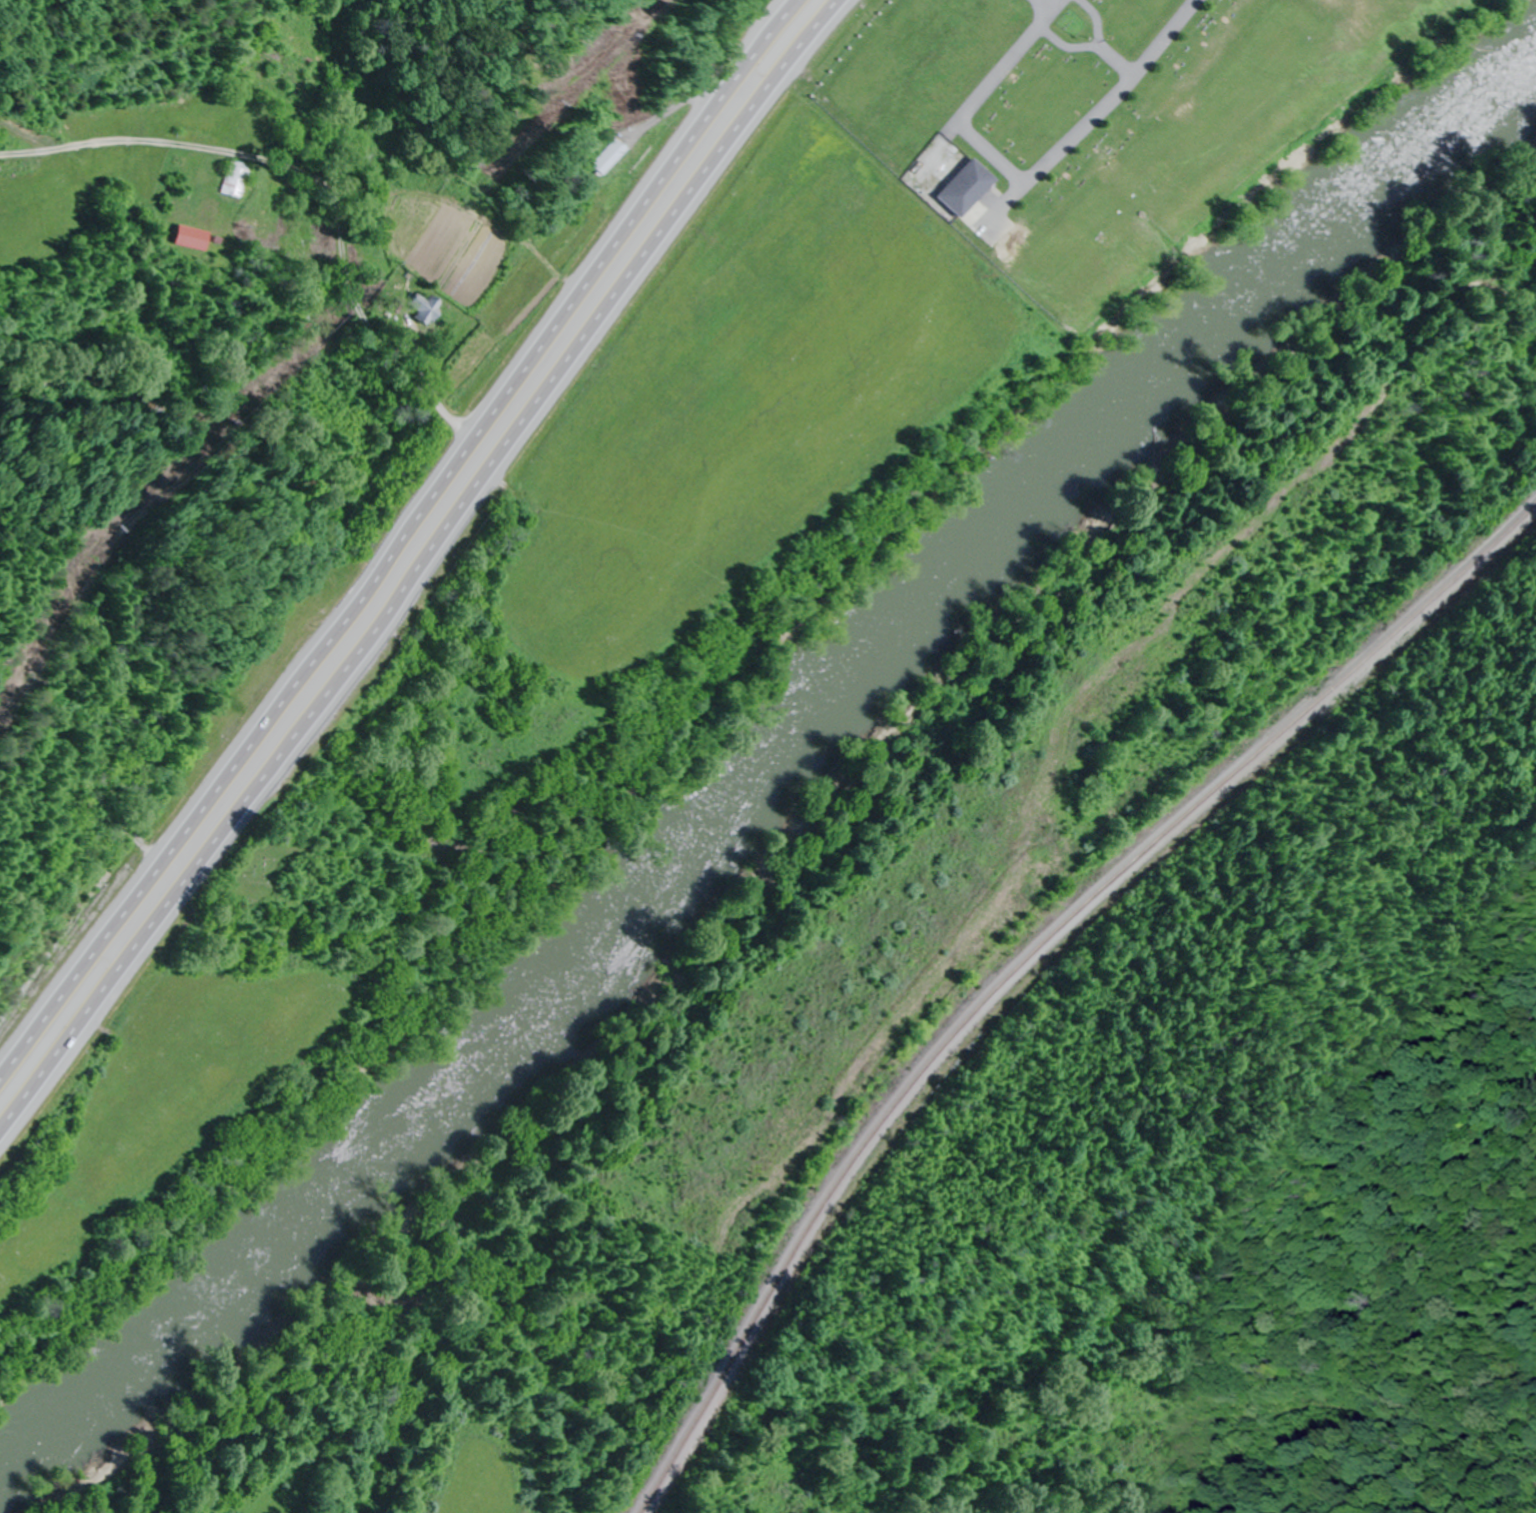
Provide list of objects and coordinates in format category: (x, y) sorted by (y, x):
building: (281, 70)
building: (232, 178)
road: (290, 208)
building: (187, 237)
building: (418, 312)
road: (397, 534)
road: (421, 565)
river: (778, 765)
railway: (1029, 960)

